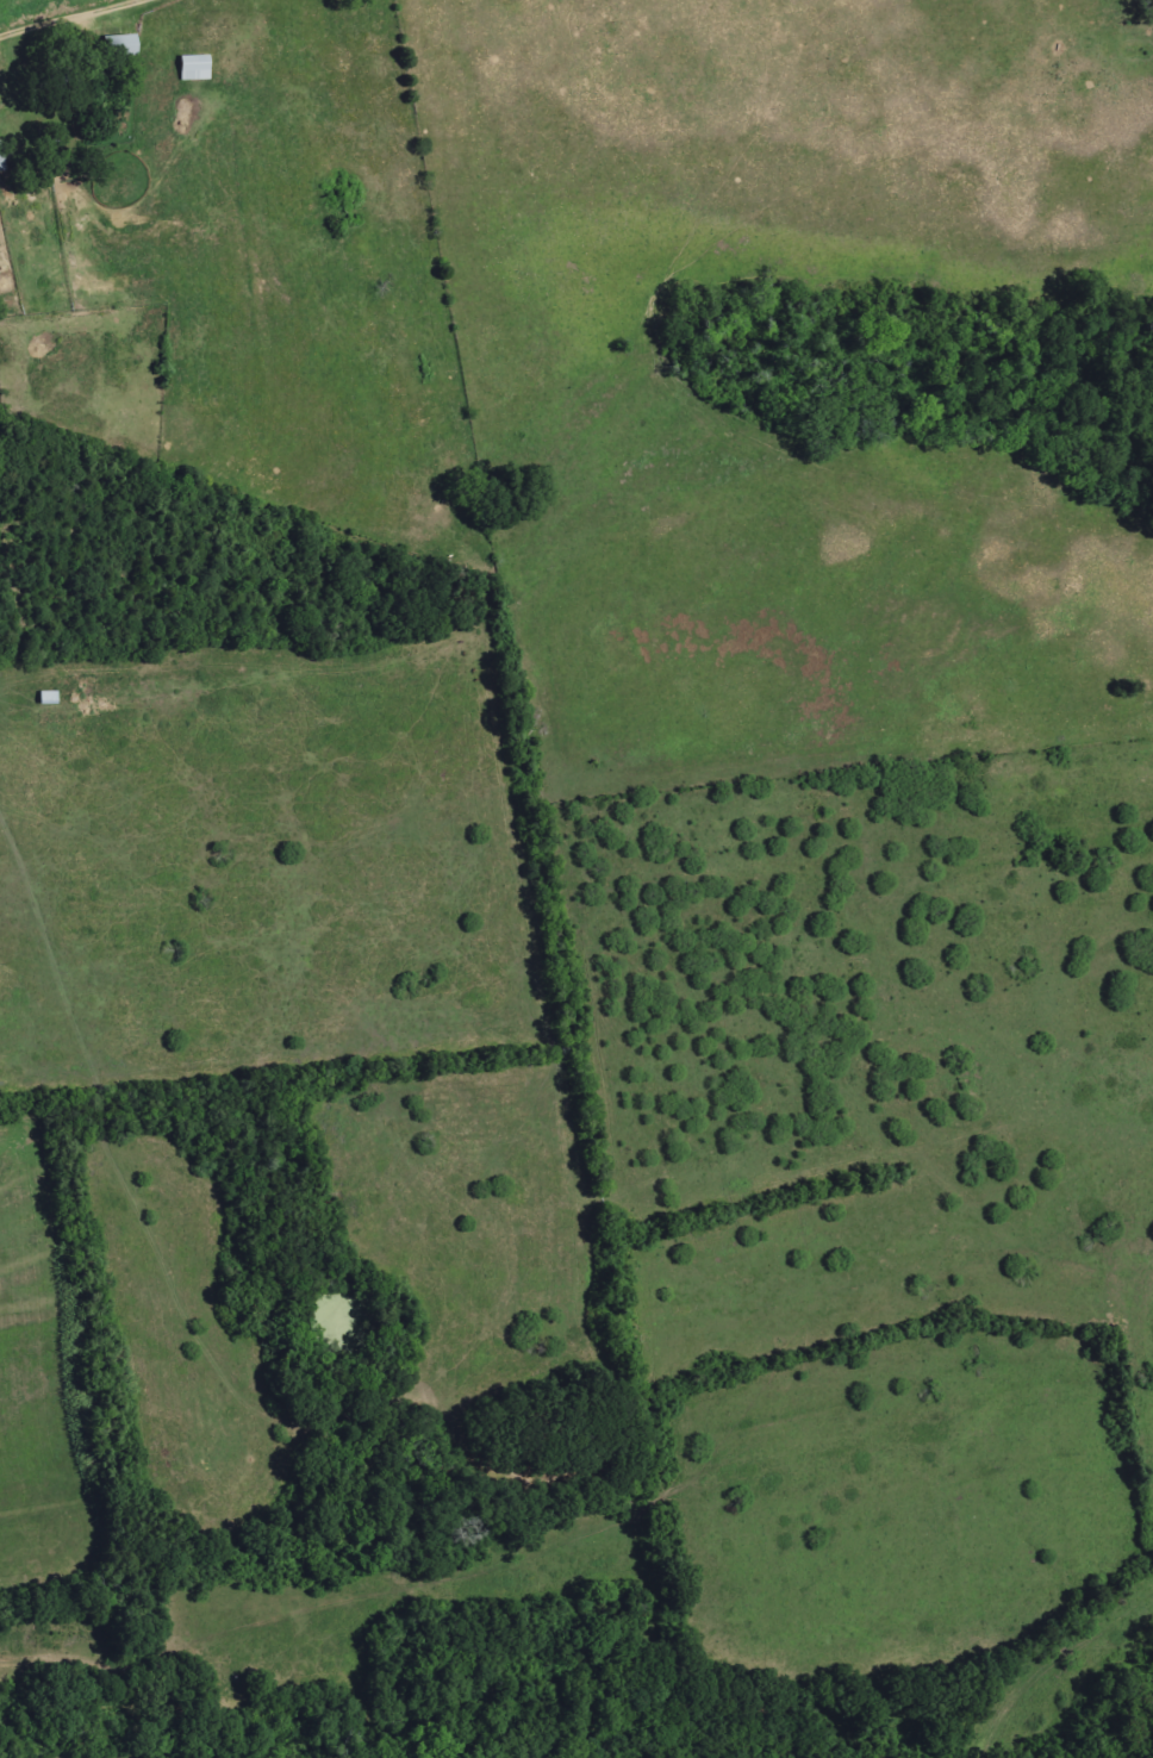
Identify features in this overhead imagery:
road: (55, 13)
building: (2, 163)

